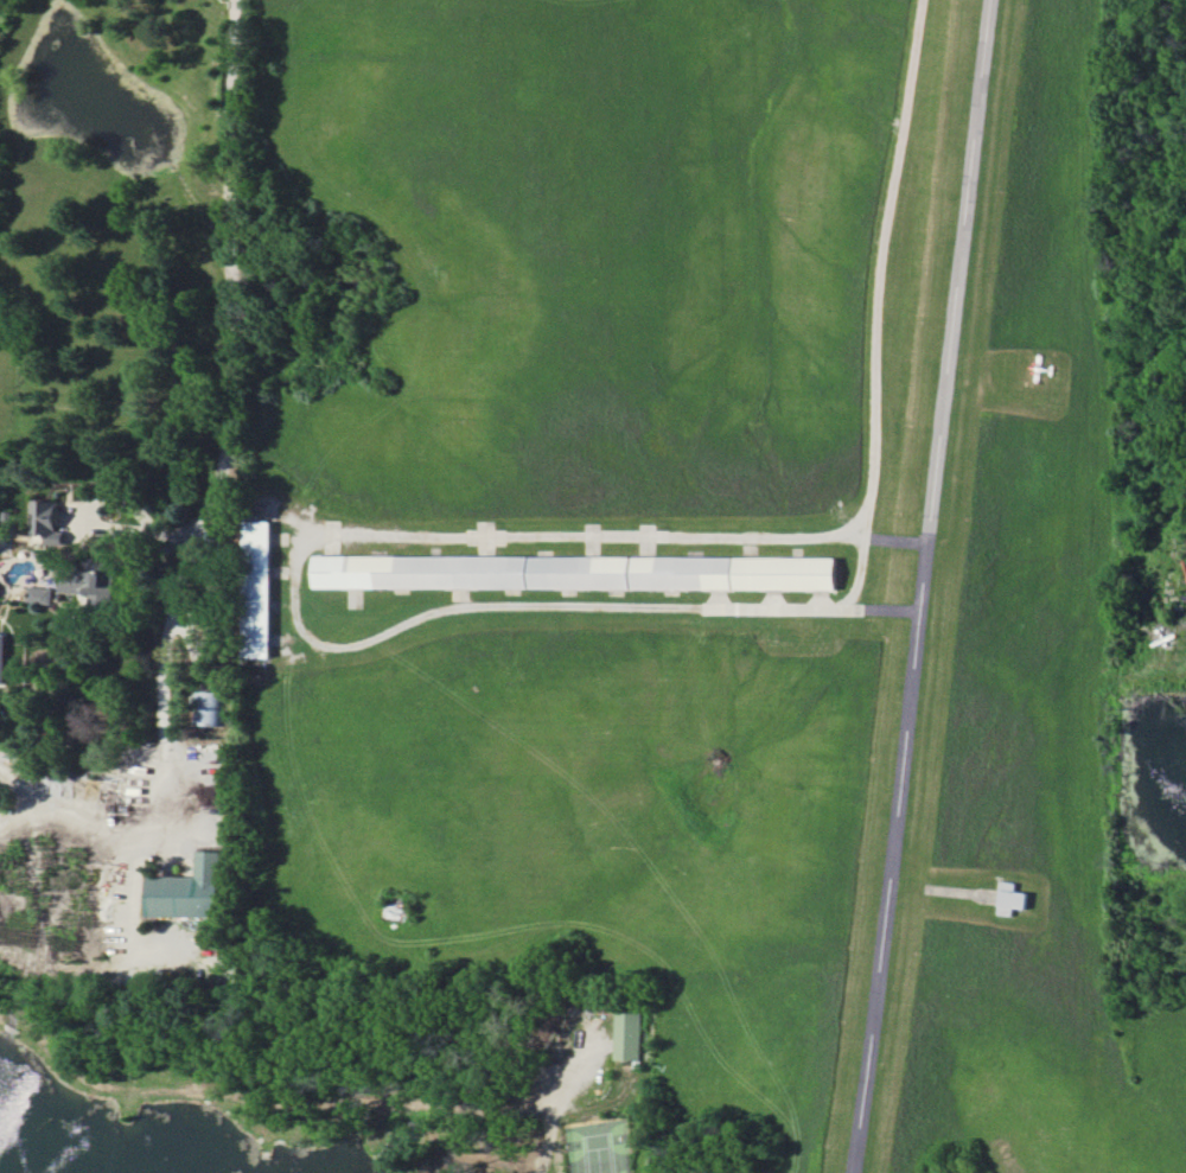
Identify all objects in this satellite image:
airport taxiway: (884, 270)
road: (209, 495)
building: (45, 522)
airport taxiway: (900, 544)
airport: (701, 556)
building: (582, 576)
airport runway: (927, 586)
building: (0, 593)
building: (39, 594)
building: (261, 597)
airport taxiway: (882, 612)
airport taxiway: (300, 618)
building: (2, 658)
building: (209, 707)
building: (190, 890)
building: (1015, 901)
road: (133, 910)
building: (627, 1035)
road: (554, 1115)

